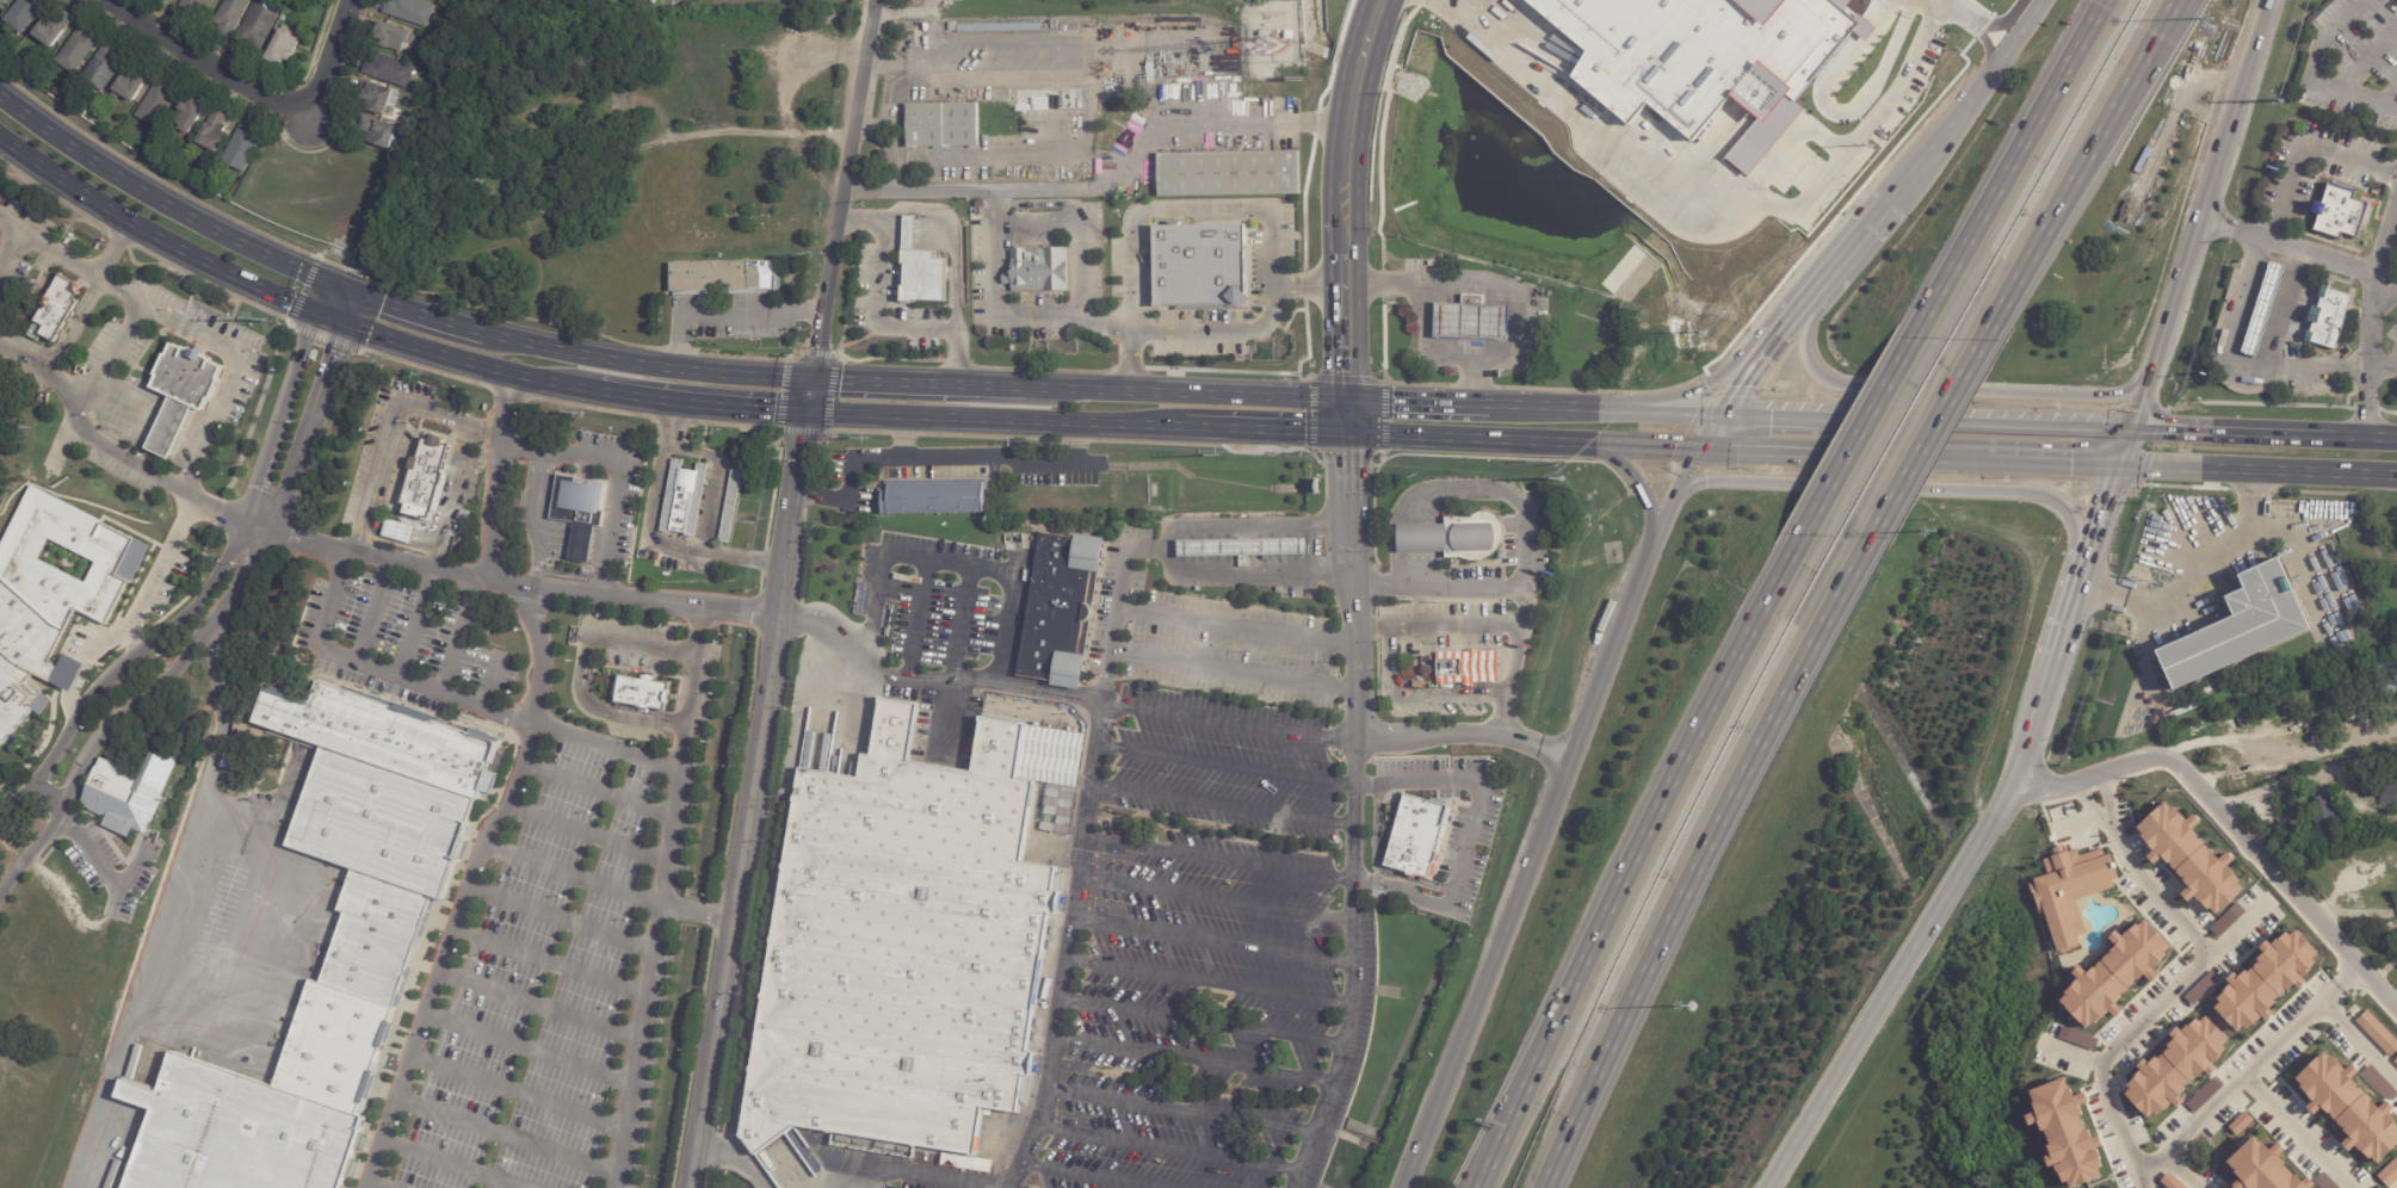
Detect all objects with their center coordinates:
parking lot: (923, 0)
building: (174, 1)
building: (4, 4)
road: (1958, 5)
building: (199, 7)
building: (413, 12)
road: (898, 12)
building: (25, 14)
road: (2004, 16)
building: (234, 17)
building: (286, 19)
building: (950, 26)
building: (997, 27)
building: (55, 29)
building: (260, 29)
road: (1985, 32)
building: (395, 38)
building: (444, 42)
building: (285, 49)
building: (80, 51)
building: (1698, 56)
road: (2366, 56)
parking lot: (2353, 61)
building: (106, 68)
building: (391, 72)
road: (2313, 74)
road: (1360, 80)
building: (134, 87)
road: (259, 91)
road: (2119, 93)
road: (2130, 93)
road: (2390, 97)
road: (1962, 99)
power tower: (2281, 99)
building: (383, 101)
road: (1845, 104)
building: (157, 105)
building: (86, 112)
building: (193, 117)
building: (1042, 117)
building: (414, 123)
road: (1279, 123)
building: (944, 126)
road: (1802, 131)
building: (217, 134)
building: (383, 135)
building: (1043, 135)
power tower: (1872, 144)
road: (2299, 144)
building: (245, 149)
road: (2015, 155)
building: (1228, 174)
road: (1346, 184)
road: (838, 190)
railway: (1354, 190)
road: (1039, 193)
road: (156, 197)
road: (1150, 211)
road: (2204, 214)
building: (2340, 214)
road: (1725, 218)
road: (2391, 223)
road: (1867, 228)
road: (2384, 233)
road: (950, 237)
road: (11, 245)
road: (49, 247)
road: (2028, 253)
building: (1198, 265)
building: (921, 270)
building: (1037, 270)
road: (2367, 270)
building: (718, 277)
road: (340, 286)
road: (1512, 286)
road: (89, 299)
road: (2384, 299)
traffic signals: (289, 301)
traffic signals: (382, 301)
road: (1346, 302)
building: (58, 308)
parking lot: (2390, 308)
road: (2282, 309)
building: (2262, 310)
road: (311, 311)
road: (876, 311)
road: (420, 313)
road: (789, 313)
road: (722, 314)
road: (1063, 315)
building: (2328, 318)
power tower: (270, 321)
building: (1470, 321)
gas station: (1470, 321)
road: (1231, 329)
power tower: (1706, 334)
road: (675, 338)
road: (1427, 342)
road: (1755, 345)
traffic signals: (815, 346)
road: (1769, 348)
road: (235, 353)
traffic signals: (334, 354)
road: (109, 358)
road: (645, 361)
road: (2234, 364)
road: (2381, 365)
traffic signals: (1346, 371)
traffic signals: (839, 380)
road: (878, 382)
traffic signals: (1741, 385)
road: (1925, 389)
road: (1145, 391)
building: (183, 394)
road: (808, 395)
traffic signals: (1396, 401)
road: (1425, 402)
road: (730, 406)
traffic signals: (771, 408)
road: (1576, 410)
power tower: (582, 414)
road: (1345, 415)
road: (1681, 415)
road: (995, 417)
traffic signals: (1771, 419)
road: (1777, 419)
road: (677, 422)
road: (1985, 423)
road: (1861, 427)
road: (1265, 428)
traffic signals: (2167, 429)
road: (487, 431)
traffic signals: (1304, 431)
road: (2231, 431)
road: (388, 432)
road: (1927, 433)
power tower: (869, 435)
road: (1459, 437)
traffic signals: (804, 438)
road: (2362, 438)
road: (906, 440)
road: (1636, 443)
traffic signals: (1675, 445)
road: (2127, 446)
road: (1748, 448)
power tower: (1219, 453)
road: (1893, 454)
road: (2056, 462)
traffic signals: (2072, 463)
road: (950, 464)
road: (2168, 466)
traffic signals: (1347, 468)
road: (2305, 471)
building: (428, 475)
road: (617, 475)
power tower: (1561, 478)
road: (715, 482)
road: (457, 488)
traffic signals: (2112, 489)
road: (1935, 490)
road: (1458, 493)
road: (1638, 493)
road: (535, 496)
building: (680, 500)
building: (938, 500)
building: (728, 506)
road: (1668, 511)
building: (575, 512)
road: (649, 519)
road: (1419, 538)
building: (1475, 538)
road: (404, 539)
road: (575, 539)
road: (364, 542)
building: (934, 546)
building: (1240, 549)
gas station: (1240, 549)
road: (1315, 549)
road: (2088, 552)
road: (359, 553)
road: (748, 556)
road: (437, 561)
road: (2186, 561)
road: (536, 564)
road: (955, 565)
road: (1252, 571)
road: (187, 575)
road: (211, 584)
road: (1384, 587)
road: (1497, 587)
building: (1278, 590)
building: (52, 595)
building: (860, 601)
building: (1063, 611)
road: (373, 612)
road: (218, 619)
road: (919, 619)
road: (416, 624)
road: (1434, 624)
road: (960, 625)
road: (1235, 626)
building: (2240, 629)
parking lot: (409, 630)
parking lot: (1238, 635)
road: (456, 636)
road: (657, 649)
road: (1509, 663)
road: (382, 669)
building: (1466, 669)
road: (1231, 670)
building: (2387, 679)
road: (490, 681)
road: (2046, 681)
building: (647, 693)
road: (1057, 698)
road: (1408, 699)
road: (635, 718)
road: (1465, 740)
road: (1354, 742)
road: (1095, 759)
road: (1227, 762)
parking lot: (1229, 767)
road: (2306, 774)
road: (1672, 776)
road: (515, 787)
building: (2381, 787)
road: (597, 790)
road: (51, 791)
building: (128, 794)
road: (754, 799)
road: (2109, 803)
building: (2335, 803)
road: (1224, 805)
road: (2093, 808)
building: (2322, 812)
road: (2075, 819)
road: (2234, 823)
road: (1471, 828)
road: (588, 834)
building: (1417, 836)
building: (2294, 848)
building: (2189, 858)
road: (1222, 859)
road: (1695, 864)
road: (106, 871)
road: (1526, 884)
road: (607, 891)
building: (2069, 891)
road: (2158, 895)
building: (2396, 895)
road: (1219, 898)
road: (660, 902)
road: (161, 911)
road: (561, 918)
road: (1216, 940)
building: (914, 941)
building: (375, 942)
road: (1911, 958)
road: (550, 964)
building: (2115, 973)
parking lot: (551, 978)
road: (1211, 980)
building: (2266, 980)
road: (539, 1006)
road: (2393, 1007)
parking lot: (1204, 1015)
road: (1204, 1031)
road: (2131, 1031)
building: (2377, 1033)
building: (2077, 1039)
road: (2356, 1045)
road: (527, 1050)
road: (2080, 1054)
road: (1198, 1059)
building: (2395, 1060)
building: (2175, 1066)
road: (2245, 1068)
road: (517, 1093)
building: (2203, 1095)
road: (1506, 1100)
road: (1515, 1101)
building: (2348, 1107)
road: (1186, 1109)
road: (1329, 1120)
road: (2296, 1131)
building: (2065, 1133)
road: (507, 1136)
road: (1174, 1146)
road: (737, 1157)
road: (449, 1164)
road: (2180, 1168)
road: (920, 1171)
building: (2389, 1174)
road: (1093, 1175)
road: (371, 1186)

